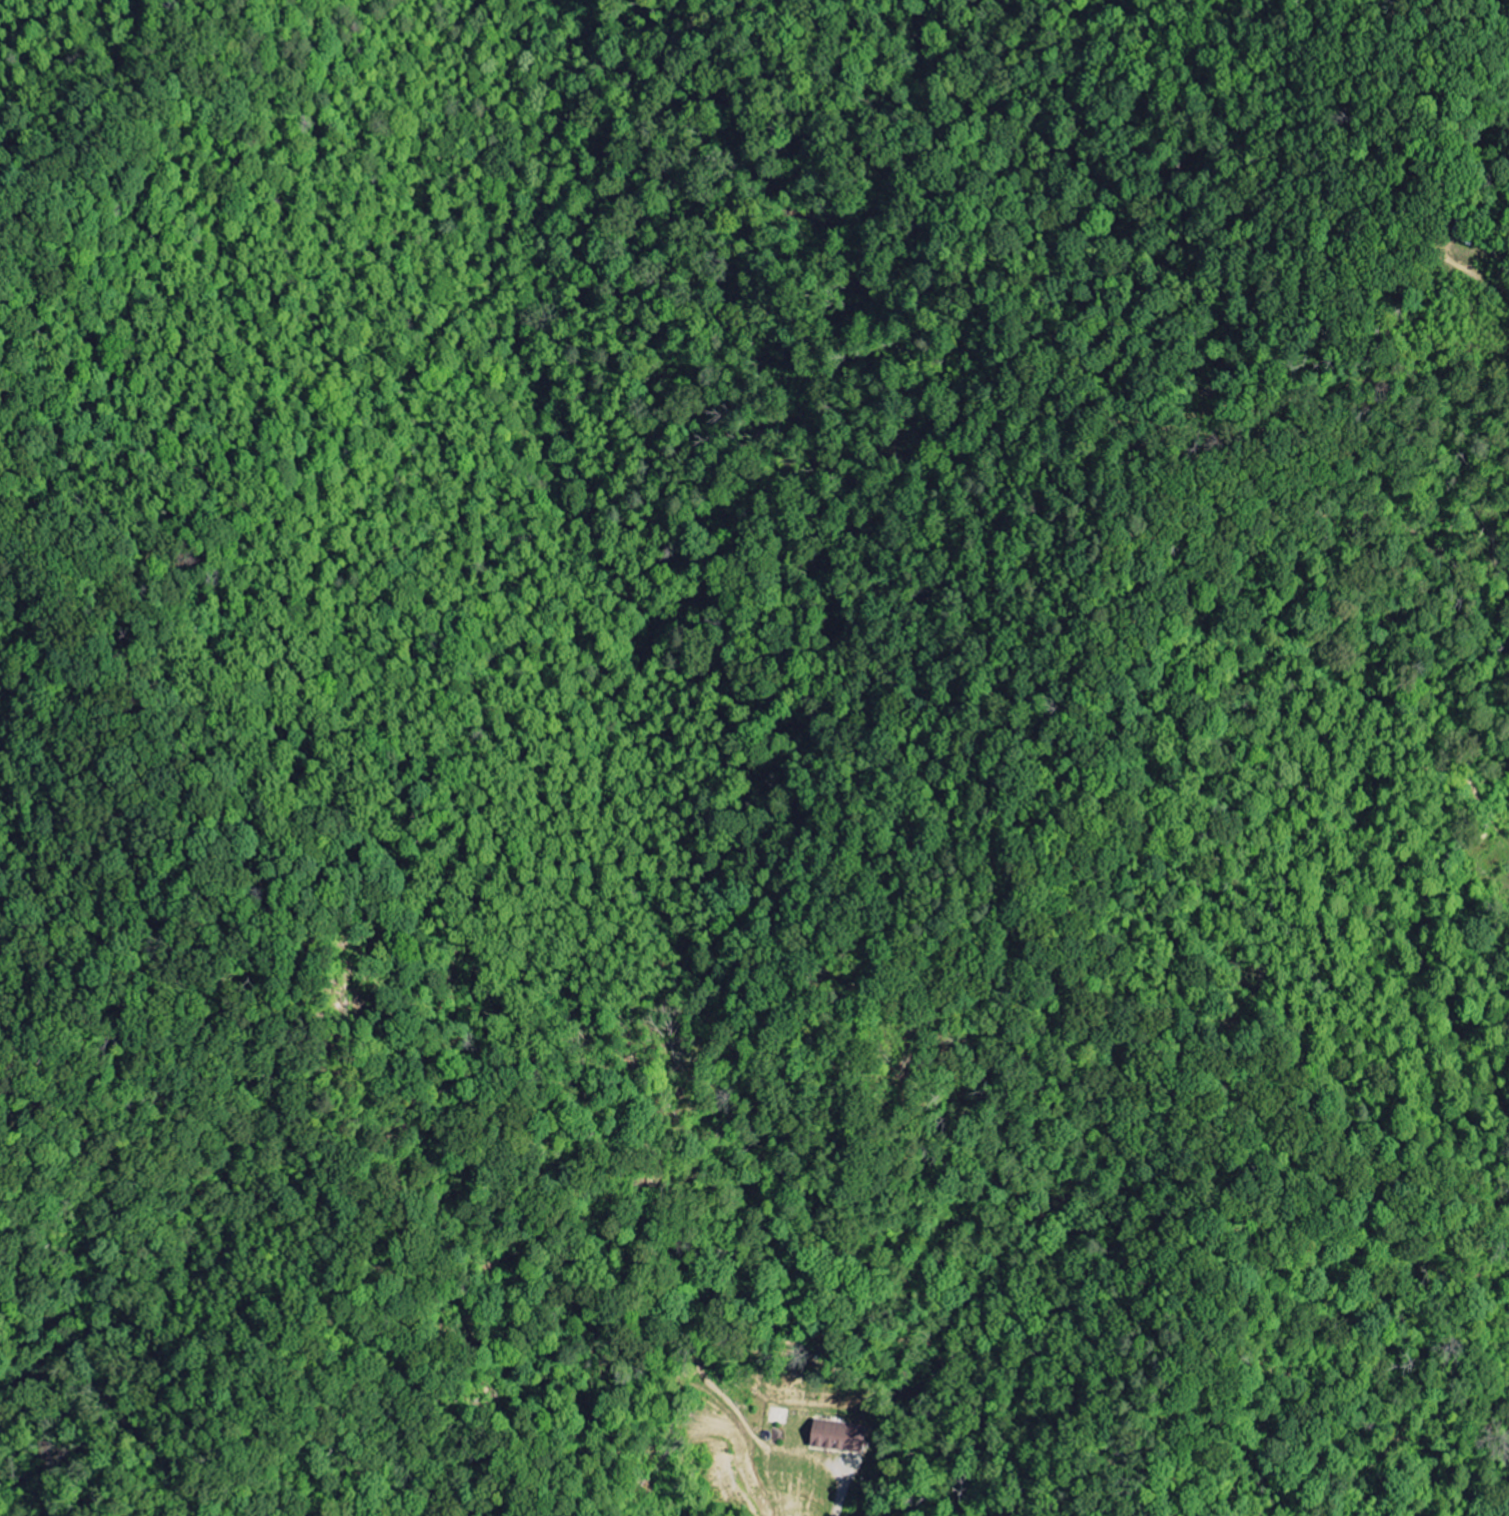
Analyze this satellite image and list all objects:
building: (838, 1436)

